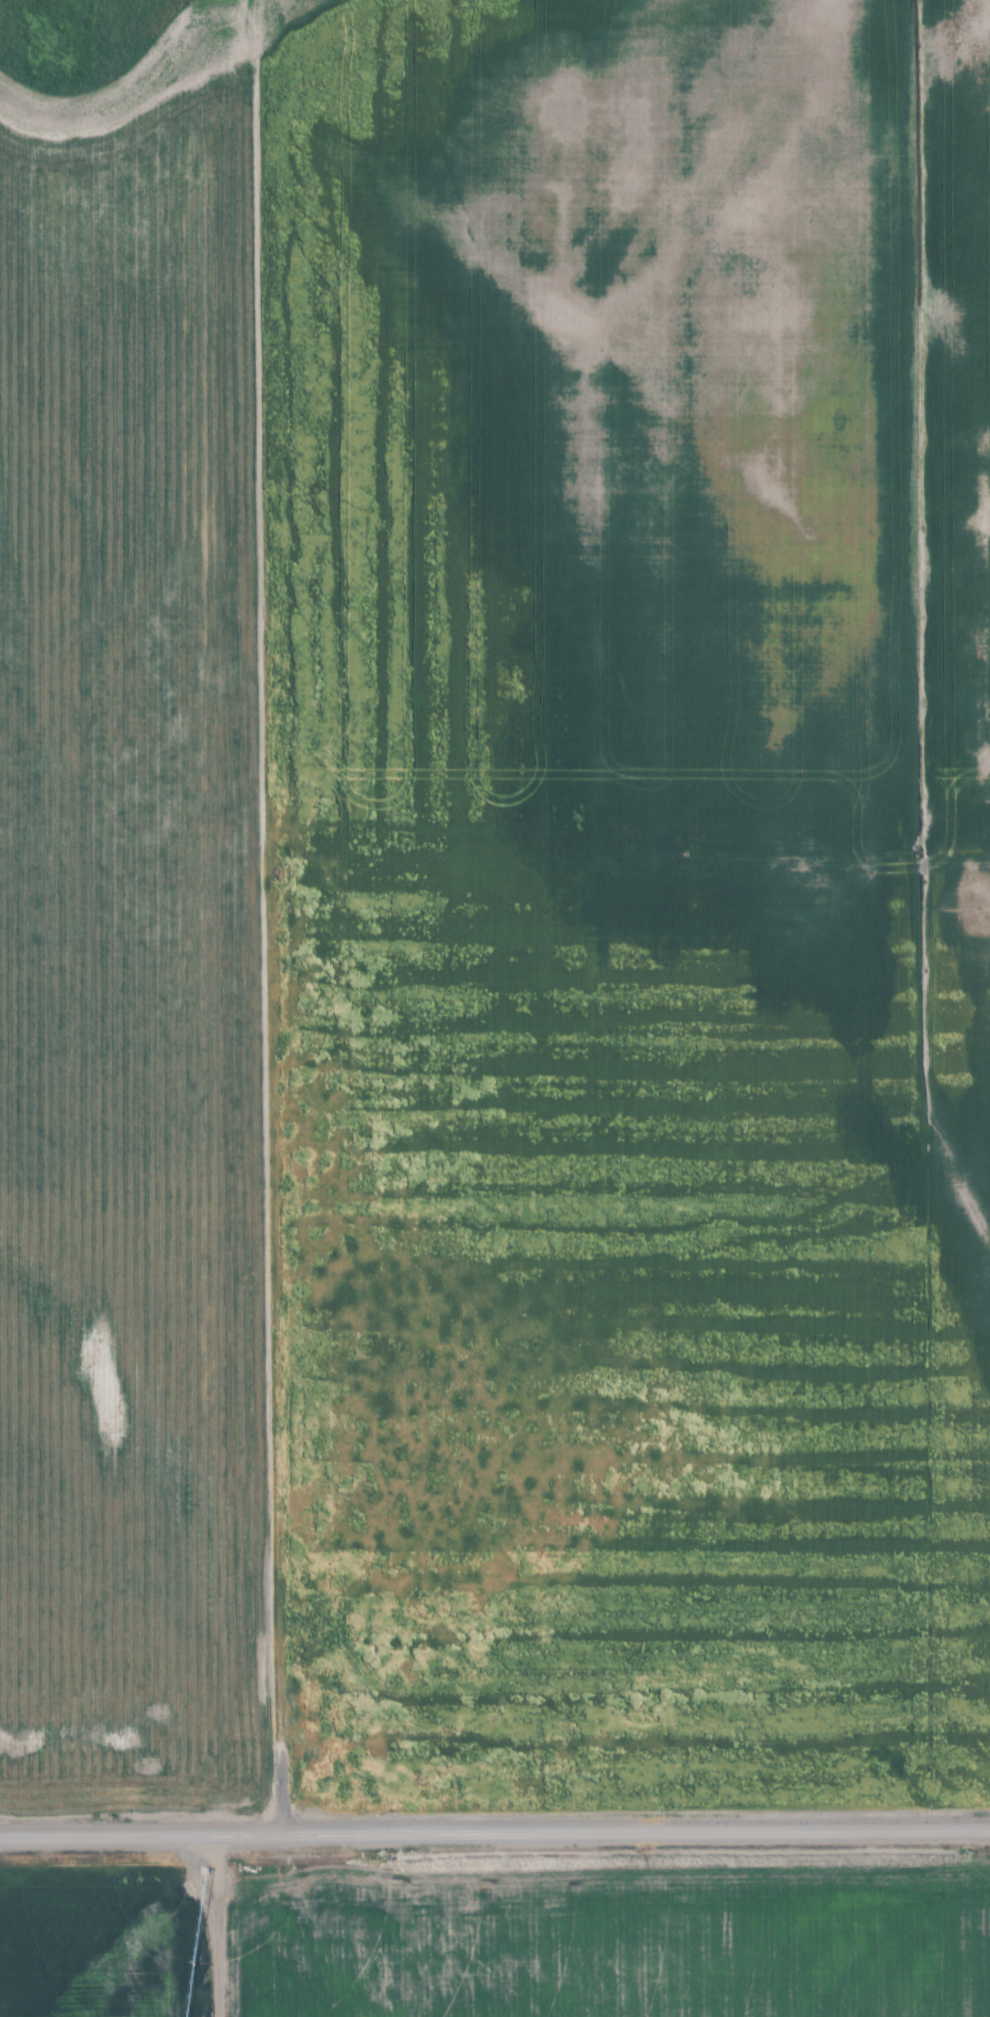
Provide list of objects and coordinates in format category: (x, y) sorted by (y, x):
crop: (79, 837)
crop: (136, 1450)
road: (495, 1838)

